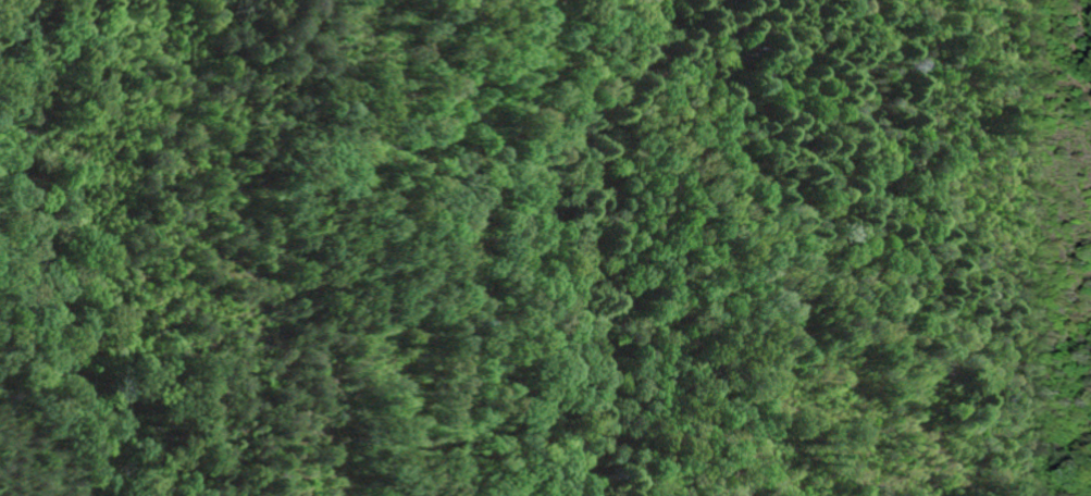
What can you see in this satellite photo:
road: (92, 39)

